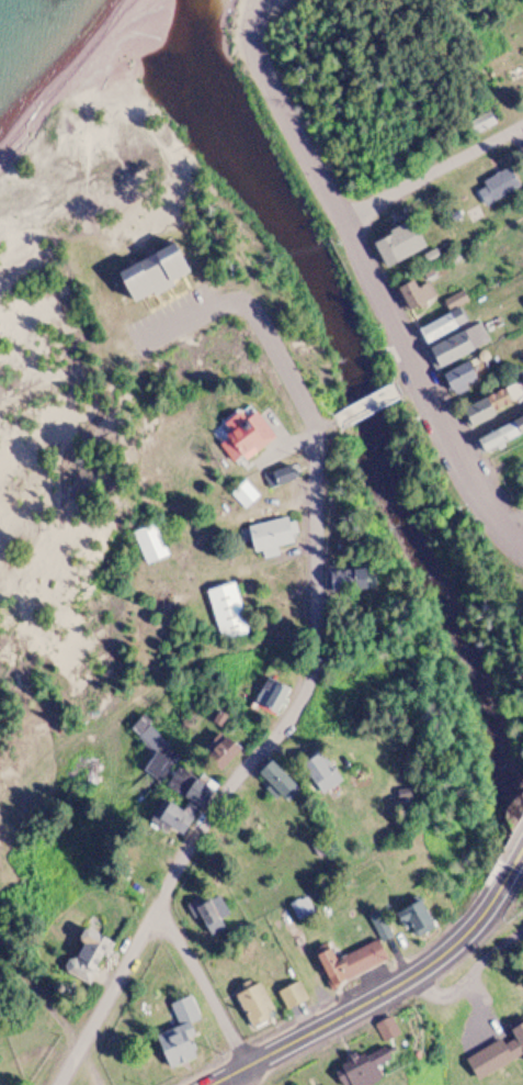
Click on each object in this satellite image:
road: (257, 9)
building: (480, 123)
road: (432, 170)
building: (496, 187)
building: (397, 245)
building: (159, 271)
road: (375, 286)
building: (417, 295)
road: (248, 307)
building: (442, 325)
building: (459, 345)
road: (60, 381)
road: (408, 383)
road: (369, 404)
building: (491, 404)
road: (330, 423)
river: (374, 428)
lighthouse: (250, 435)
building: (249, 436)
building: (283, 476)
building: (245, 494)
building: (270, 535)
building: (150, 542)
building: (283, 580)
building: (348, 580)
building: (227, 611)
building: (271, 697)
road: (241, 770)
building: (320, 773)
building: (278, 780)
building: (186, 807)
road: (511, 868)
building: (212, 914)
building: (416, 919)
building: (92, 951)
road: (496, 952)
building: (352, 962)
road: (440, 991)
road: (205, 994)
building: (292, 996)
road: (362, 1000)
building: (254, 1004)
building: (386, 1030)
building: (179, 1033)
building: (497, 1054)
building: (368, 1070)

